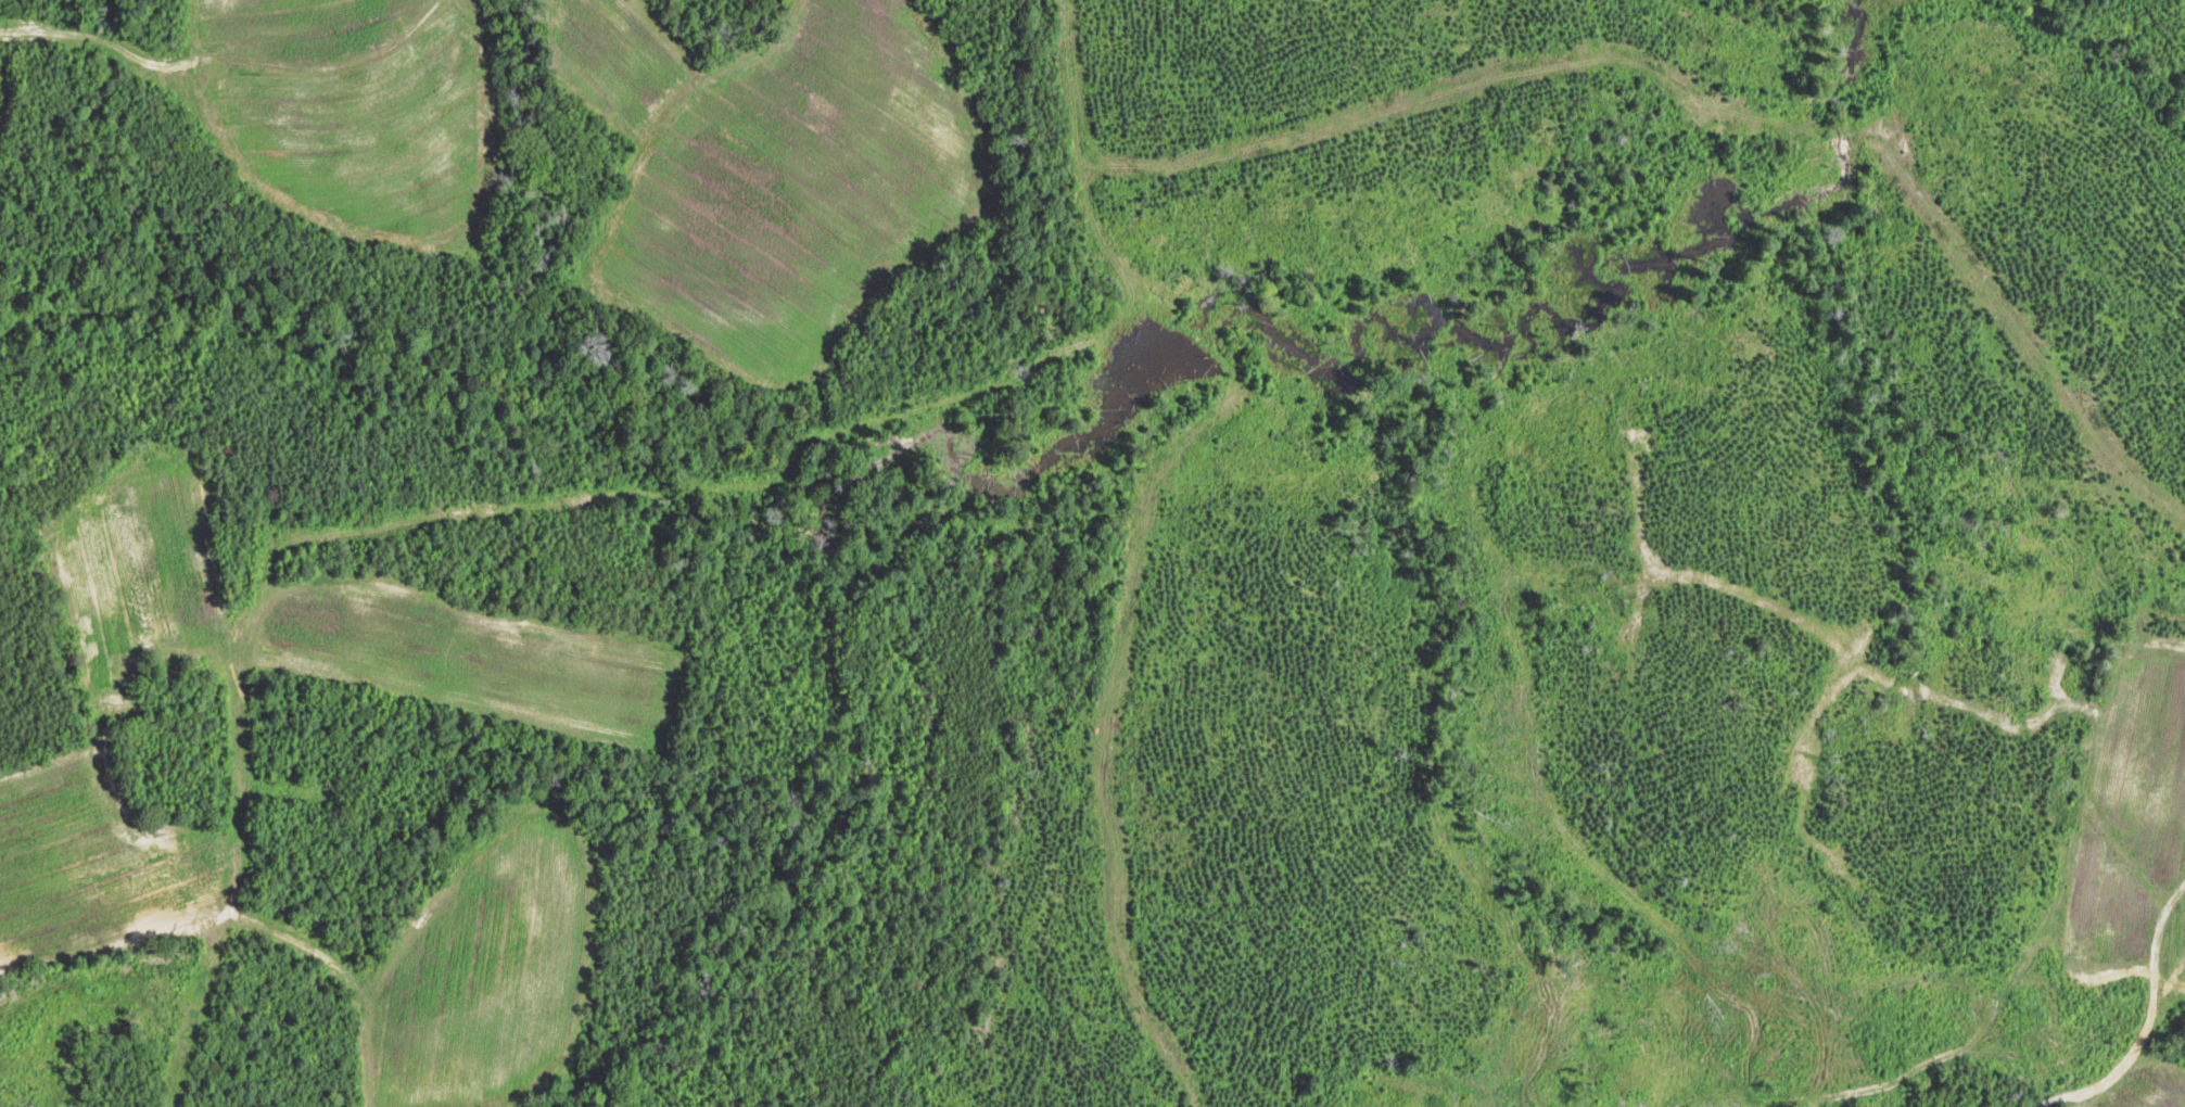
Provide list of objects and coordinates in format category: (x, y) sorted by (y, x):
road: (2037, 1106)

